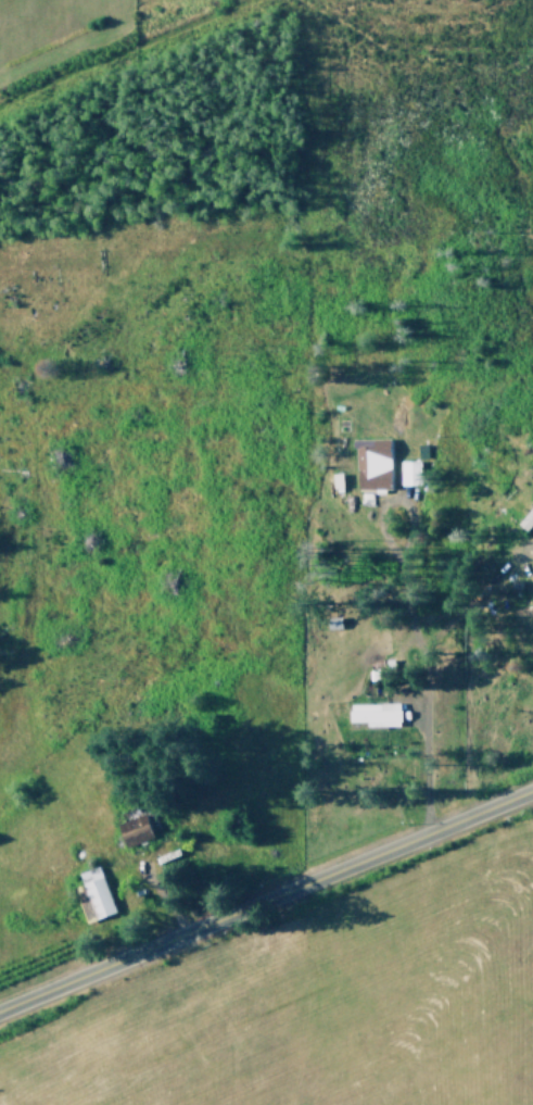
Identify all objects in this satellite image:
building: (372, 462)
building: (408, 472)
building: (526, 518)
building: (532, 570)
building: (332, 621)
building: (375, 713)
building: (134, 829)
building: (96, 891)
road: (266, 896)

